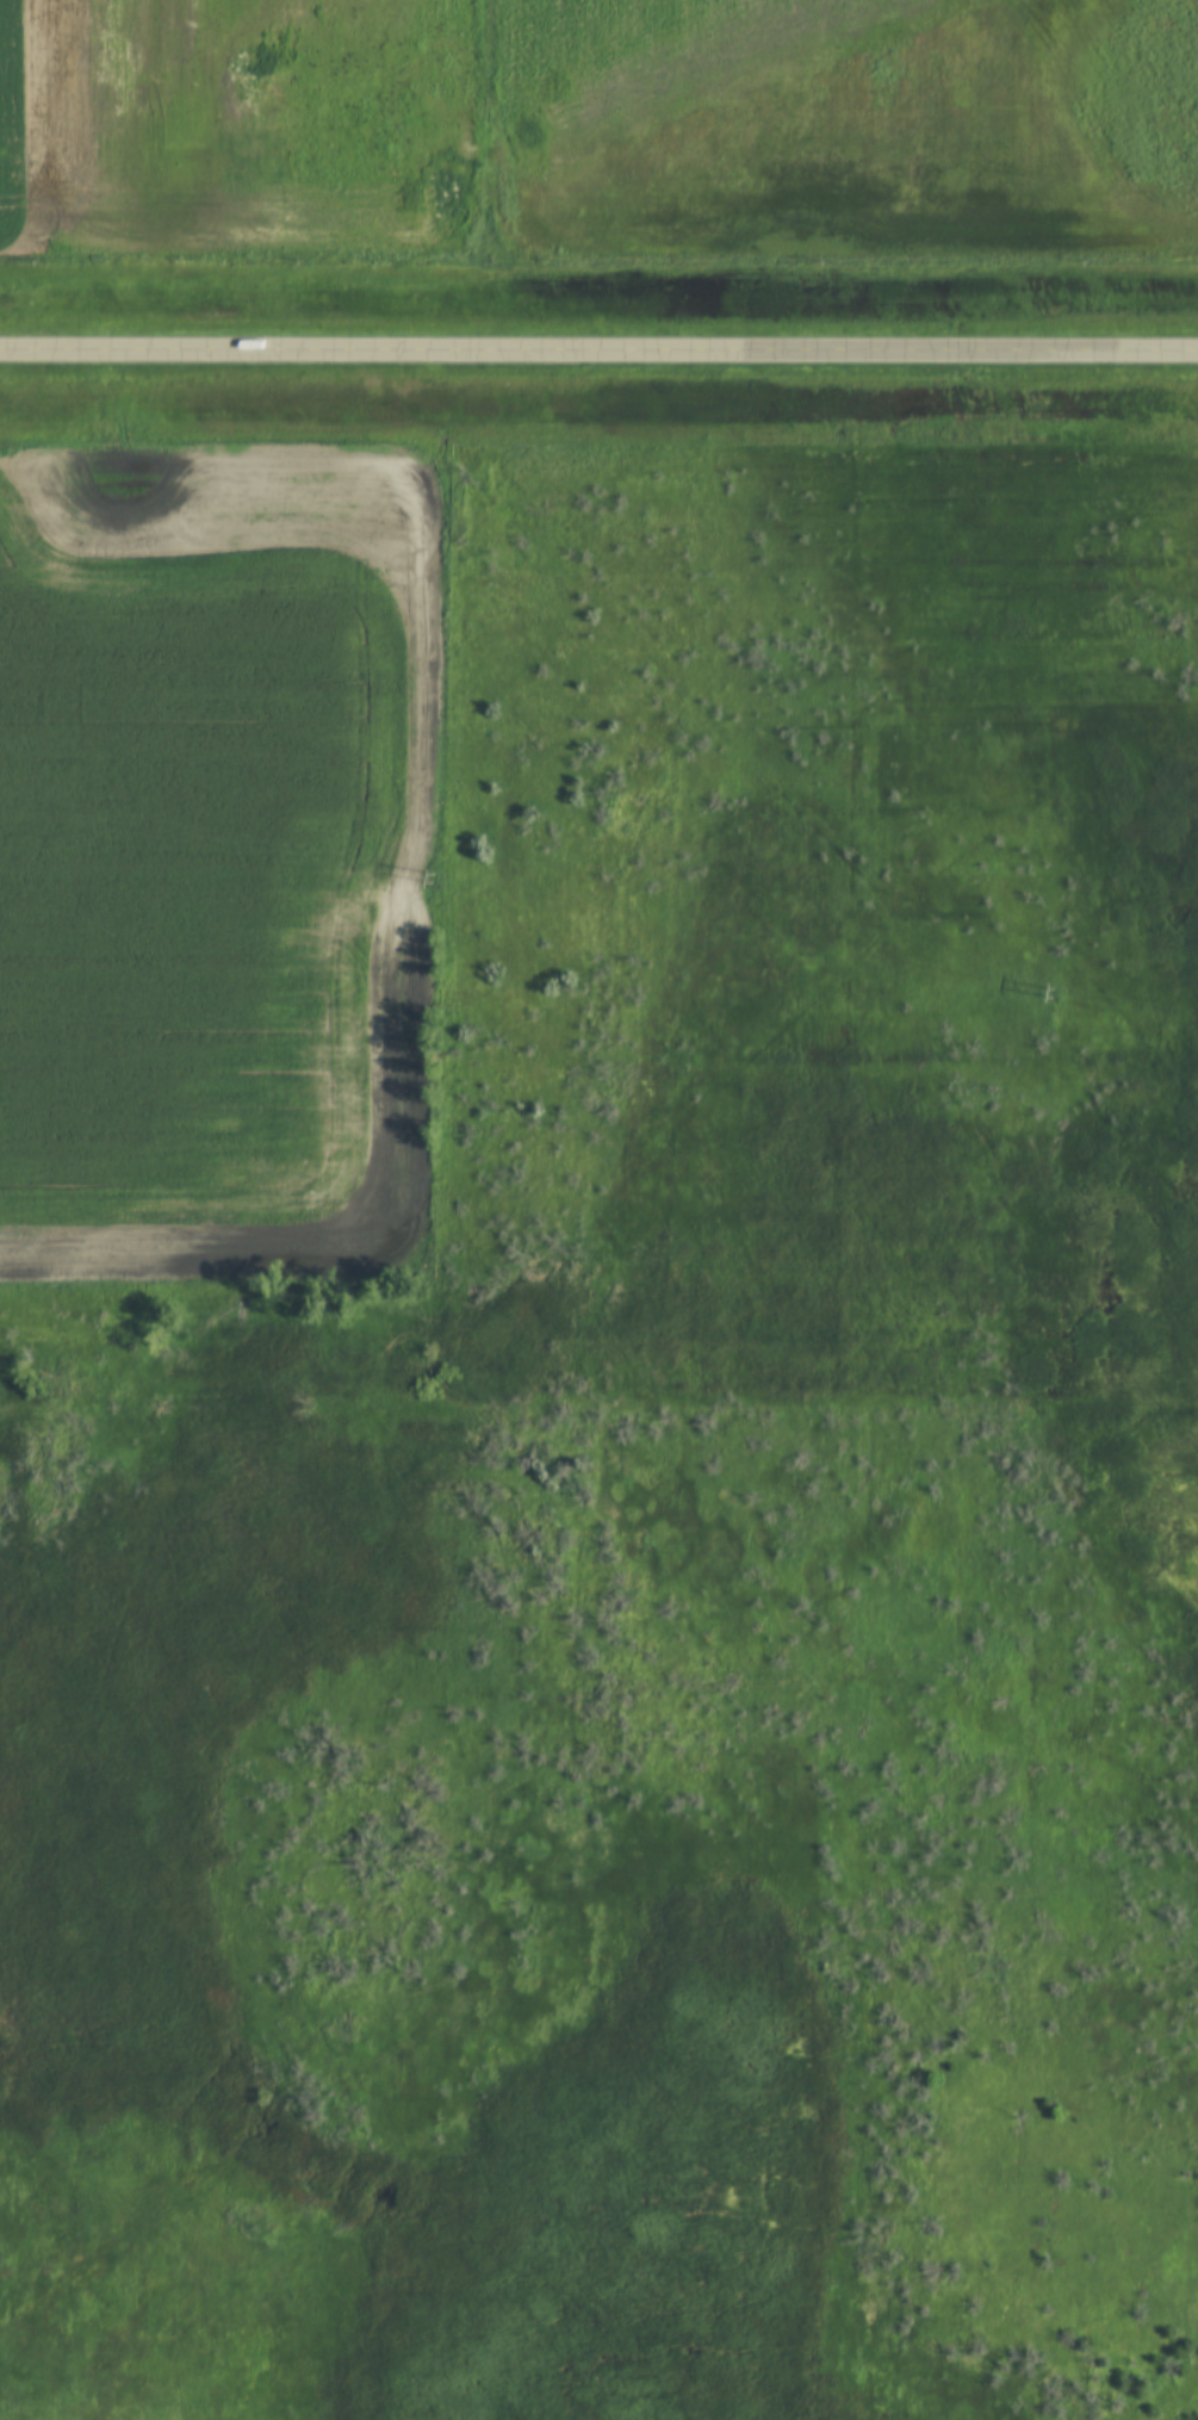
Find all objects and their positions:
crop: (843, 117)
crop: (238, 126)
road: (598, 349)
crop: (215, 863)
power tower: (435, 880)
power tower: (1050, 995)

